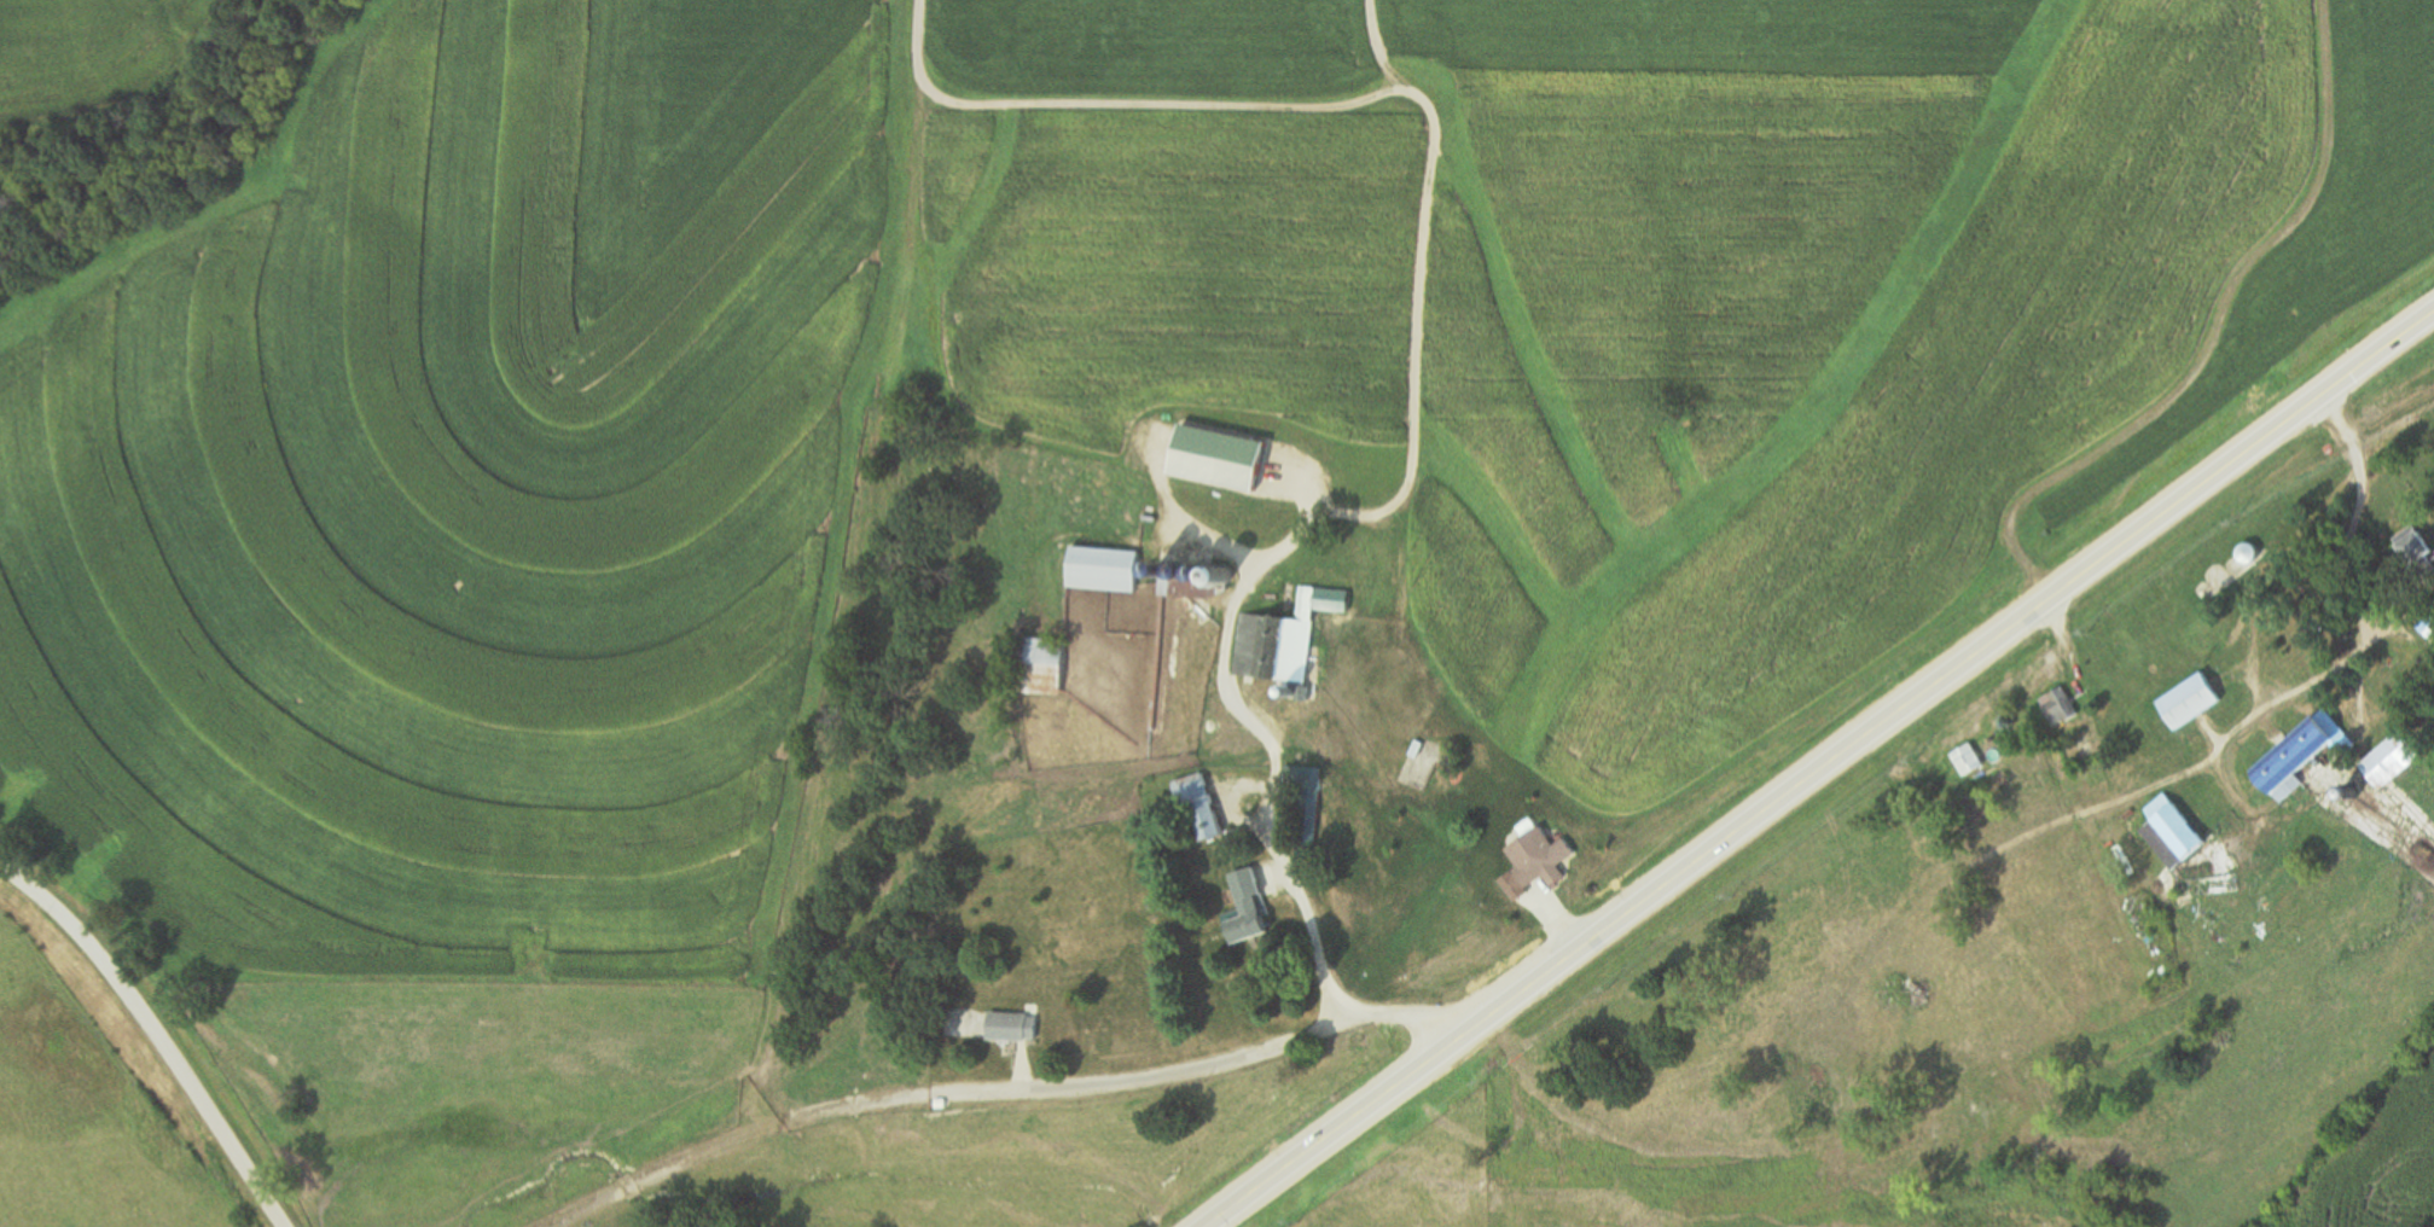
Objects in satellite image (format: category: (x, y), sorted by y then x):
road: (1128, 109)
road: (1411, 308)
park: (2429, 324)
road: (2212, 337)
building: (1220, 460)
building: (2409, 546)
road: (2346, 547)
building: (2246, 554)
road: (849, 565)
building: (1105, 570)
building: (1191, 595)
road: (2252, 638)
building: (2433, 638)
building: (1282, 641)
road: (2064, 650)
building: (1044, 668)
road: (2307, 684)
building: (1289, 694)
building: (2188, 702)
building: (2057, 708)
building: (2299, 756)
building: (1968, 762)
building: (2388, 762)
road: (1824, 770)
road: (1273, 777)
building: (1201, 806)
building: (1302, 813)
building: (2171, 835)
road: (2018, 839)
building: (1198, 857)
building: (1538, 857)
mineshaft: (900, 862)
building: (2217, 886)
building: (1247, 911)
building: (1010, 1030)
road: (155, 1037)
road: (1166, 1077)
road: (819, 1111)
road: (713, 1151)
road: (628, 1187)
road: (582, 1209)

